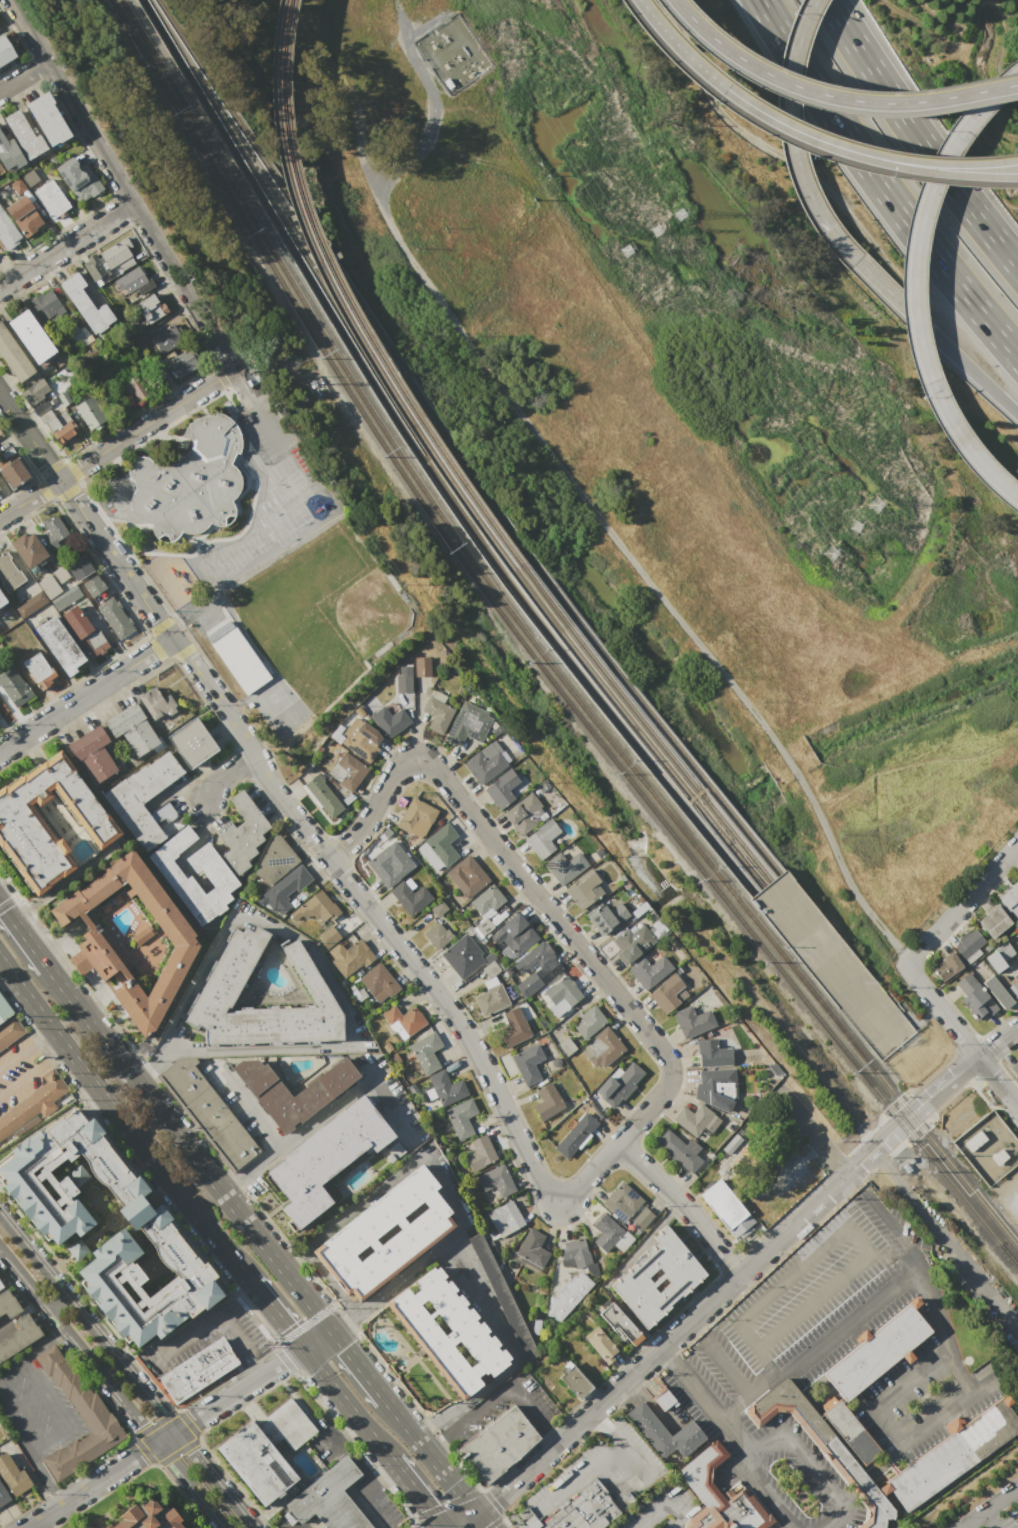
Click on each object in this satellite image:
road: (808, 10)
road: (811, 10)
road: (414, 39)
road: (671, 42)
building: (443, 49)
building: (5, 50)
road: (26, 81)
road: (831, 96)
building: (48, 118)
building: (24, 134)
road: (917, 137)
road: (414, 144)
road: (793, 148)
road: (857, 149)
building: (10, 154)
road: (854, 157)
building: (1, 169)
building: (30, 177)
building: (80, 181)
road: (880, 184)
building: (18, 186)
road: (123, 186)
building: (52, 199)
power tower: (678, 214)
building: (24, 215)
power tower: (655, 229)
building: (8, 230)
road: (67, 248)
power tower: (625, 250)
building: (110, 258)
building: (132, 280)
road: (913, 285)
road: (893, 296)
railway: (348, 301)
building: (86, 304)
railway: (338, 304)
building: (46, 305)
building: (151, 308)
building: (86, 334)
building: (77, 335)
building: (31, 337)
building: (169, 338)
building: (141, 340)
building: (14, 356)
building: (185, 362)
road: (974, 373)
building: (132, 388)
building: (35, 392)
building: (65, 398)
road: (257, 408)
building: (92, 414)
building: (53, 423)
road: (147, 426)
building: (66, 432)
road: (29, 436)
railway: (452, 446)
railway: (424, 462)
building: (15, 472)
building: (188, 481)
park: (298, 483)
building: (0, 486)
road: (29, 498)
park: (288, 503)
power tower: (875, 504)
road: (601, 522)
park: (276, 526)
power tower: (854, 526)
building: (54, 531)
building: (28, 550)
power tower: (830, 552)
road: (118, 560)
building: (80, 568)
park: (216, 572)
building: (9, 573)
building: (60, 574)
building: (48, 586)
building: (96, 588)
building: (65, 597)
building: (2, 598)
building: (30, 603)
park: (321, 613)
building: (115, 618)
building: (76, 623)
road: (108, 636)
building: (94, 643)
railway: (536, 646)
building: (60, 647)
railway: (531, 654)
building: (237, 657)
building: (422, 667)
building: (38, 670)
building: (404, 680)
building: (15, 686)
road: (88, 696)
park: (270, 698)
building: (158, 703)
building: (437, 712)
building: (389, 720)
building: (468, 724)
railway: (642, 724)
building: (132, 728)
railway: (634, 729)
building: (361, 739)
building: (192, 742)
building: (93, 754)
building: (486, 762)
building: (346, 771)
road: (228, 775)
building: (502, 787)
building: (322, 795)
building: (127, 797)
building: (525, 813)
building: (416, 817)
building: (20, 818)
building: (242, 834)
building: (542, 837)
building: (444, 845)
building: (275, 861)
building: (384, 865)
building: (565, 866)
building: (1017, 875)
building: (467, 876)
building: (219, 877)
building: (585, 889)
building: (284, 890)
building: (410, 896)
road: (541, 896)
building: (1011, 898)
building: (486, 900)
road: (962, 903)
building: (316, 907)
building: (607, 917)
building: (993, 921)
building: (483, 926)
building: (437, 933)
building: (516, 933)
road: (23, 934)
building: (143, 935)
building: (328, 936)
building: (100, 942)
building: (631, 942)
building: (970, 945)
building: (1017, 949)
building: (1003, 950)
road: (405, 952)
building: (462, 956)
building: (352, 958)
building: (532, 959)
building: (946, 966)
road: (320, 968)
building: (490, 968)
building: (648, 970)
building: (227, 978)
building: (378, 980)
building: (528, 989)
building: (1013, 989)
building: (666, 992)
building: (997, 992)
building: (562, 994)
building: (490, 999)
building: (977, 1003)
building: (4, 1012)
building: (403, 1021)
building: (693, 1021)
building: (588, 1022)
building: (515, 1026)
building: (9, 1030)
road: (962, 1034)
road: (998, 1041)
road: (966, 1043)
building: (566, 1046)
road: (987, 1047)
building: (601, 1048)
road: (26, 1050)
building: (425, 1051)
building: (712, 1053)
building: (527, 1063)
road: (997, 1063)
building: (1014, 1068)
parking lot: (19, 1070)
road: (32, 1071)
road: (988, 1073)
road: (932, 1075)
building: (617, 1081)
road: (978, 1085)
building: (324, 1086)
building: (444, 1087)
building: (715, 1088)
road: (947, 1100)
building: (546, 1102)
building: (33, 1103)
road: (246, 1103)
road: (893, 1104)
road: (992, 1106)
road: (389, 1109)
building: (207, 1113)
building: (460, 1118)
road: (122, 1121)
building: (697, 1121)
road: (806, 1126)
road: (306, 1127)
road: (918, 1133)
building: (574, 1134)
road: (865, 1135)
building: (988, 1147)
road: (896, 1148)
road: (187, 1150)
building: (681, 1150)
building: (480, 1153)
building: (328, 1158)
road: (884, 1160)
road: (836, 1164)
road: (858, 1164)
road: (842, 1170)
building: (77, 1175)
building: (495, 1180)
building: (621, 1201)
road: (684, 1205)
building: (725, 1207)
building: (641, 1217)
building: (505, 1218)
building: (62, 1228)
road: (456, 1228)
building: (384, 1232)
building: (606, 1232)
road: (944, 1242)
building: (76, 1248)
building: (532, 1248)
road: (868, 1252)
building: (575, 1253)
railway: (1017, 1265)
railway: (1017, 1265)
road: (925, 1274)
building: (655, 1277)
road: (392, 1282)
building: (0, 1284)
building: (0, 1287)
building: (502, 1295)
building: (565, 1296)
building: (7, 1303)
road: (275, 1315)
road: (849, 1323)
building: (618, 1324)
road: (210, 1325)
building: (448, 1332)
building: (18, 1336)
road: (39, 1340)
building: (600, 1344)
building: (877, 1350)
road: (666, 1354)
road: (766, 1361)
road: (259, 1364)
road: (726, 1364)
road: (357, 1365)
building: (197, 1369)
road: (127, 1371)
road: (40, 1378)
building: (574, 1379)
road: (113, 1391)
road: (892, 1392)
road: (746, 1394)
road: (608, 1396)
road: (496, 1397)
building: (662, 1399)
road: (347, 1405)
road: (709, 1405)
road: (949, 1408)
road: (600, 1413)
building: (94, 1414)
road: (20, 1418)
road: (345, 1427)
road: (178, 1429)
road: (406, 1429)
building: (663, 1432)
building: (850, 1432)
road: (51, 1439)
building: (498, 1443)
road: (626, 1446)
building: (961, 1447)
building: (822, 1448)
building: (265, 1450)
road: (801, 1452)
building: (12, 1474)
road: (579, 1475)
road: (369, 1476)
road: (47, 1480)
road: (452, 1485)
road: (1017, 1493)
building: (3, 1494)
road: (418, 1494)
building: (718, 1495)
road: (762, 1495)
building: (328, 1498)
road: (661, 1502)
road: (991, 1508)
building: (576, 1510)
building: (145, 1516)
road: (463, 1520)
road: (480, 1520)
road: (988, 1521)
road: (391, 1526)
building: (186, 1527)

